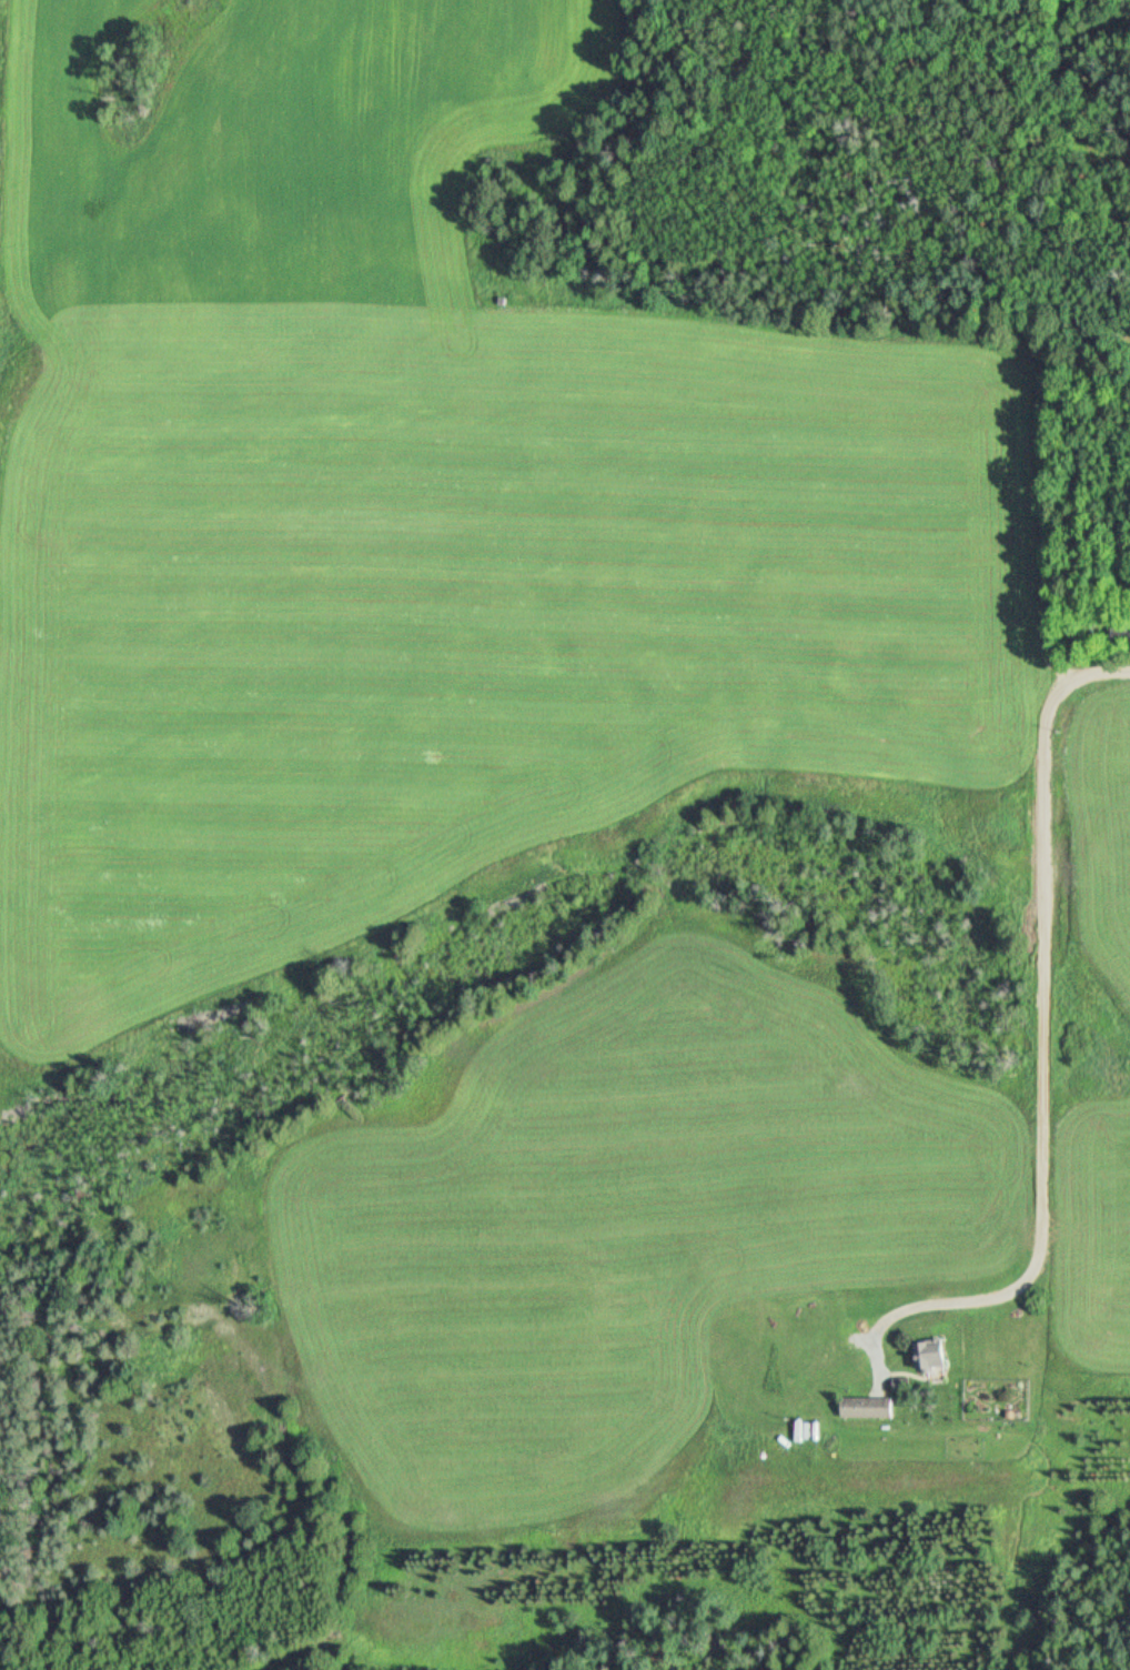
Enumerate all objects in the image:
road: (1046, 500)
building: (1124, 630)
road: (1103, 675)
road: (1051, 1087)
building: (939, 1349)
building: (910, 1382)
building: (876, 1406)

